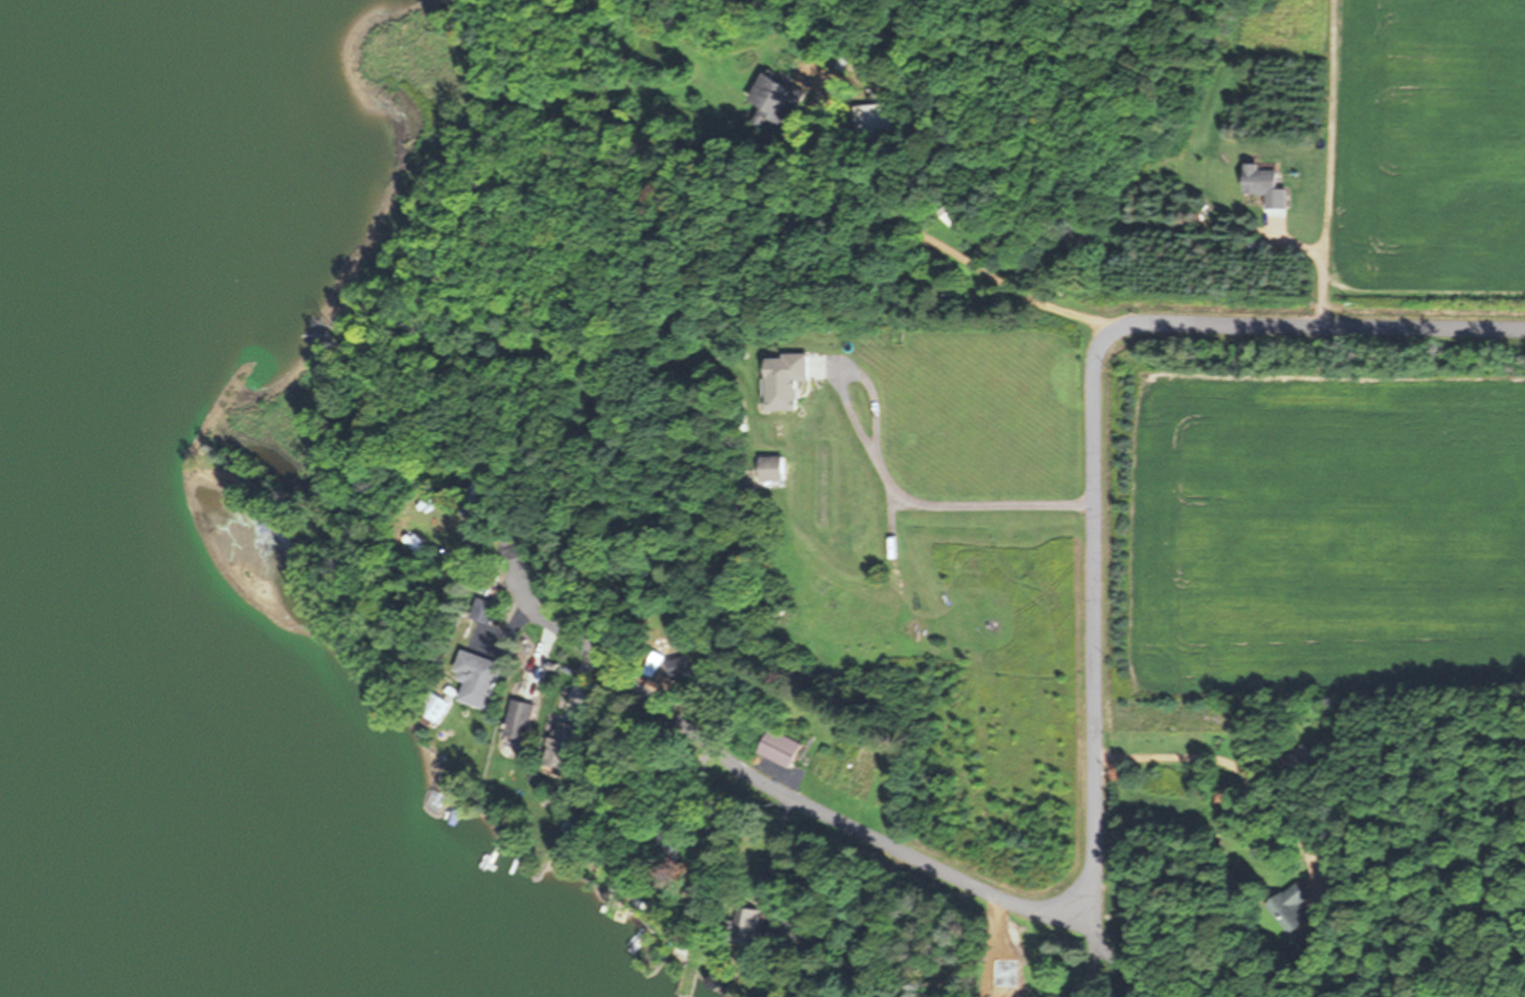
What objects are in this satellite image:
building: (773, 100)
building: (873, 118)
crop: (1428, 159)
building: (1268, 185)
building: (952, 213)
building: (787, 380)
building: (772, 469)
crop: (1313, 511)
building: (484, 610)
building: (679, 667)
building: (479, 678)
building: (522, 720)
building: (563, 745)
building: (783, 749)
building: (1300, 759)
road: (1096, 781)
building: (1293, 910)
building: (750, 924)
building: (796, 932)

